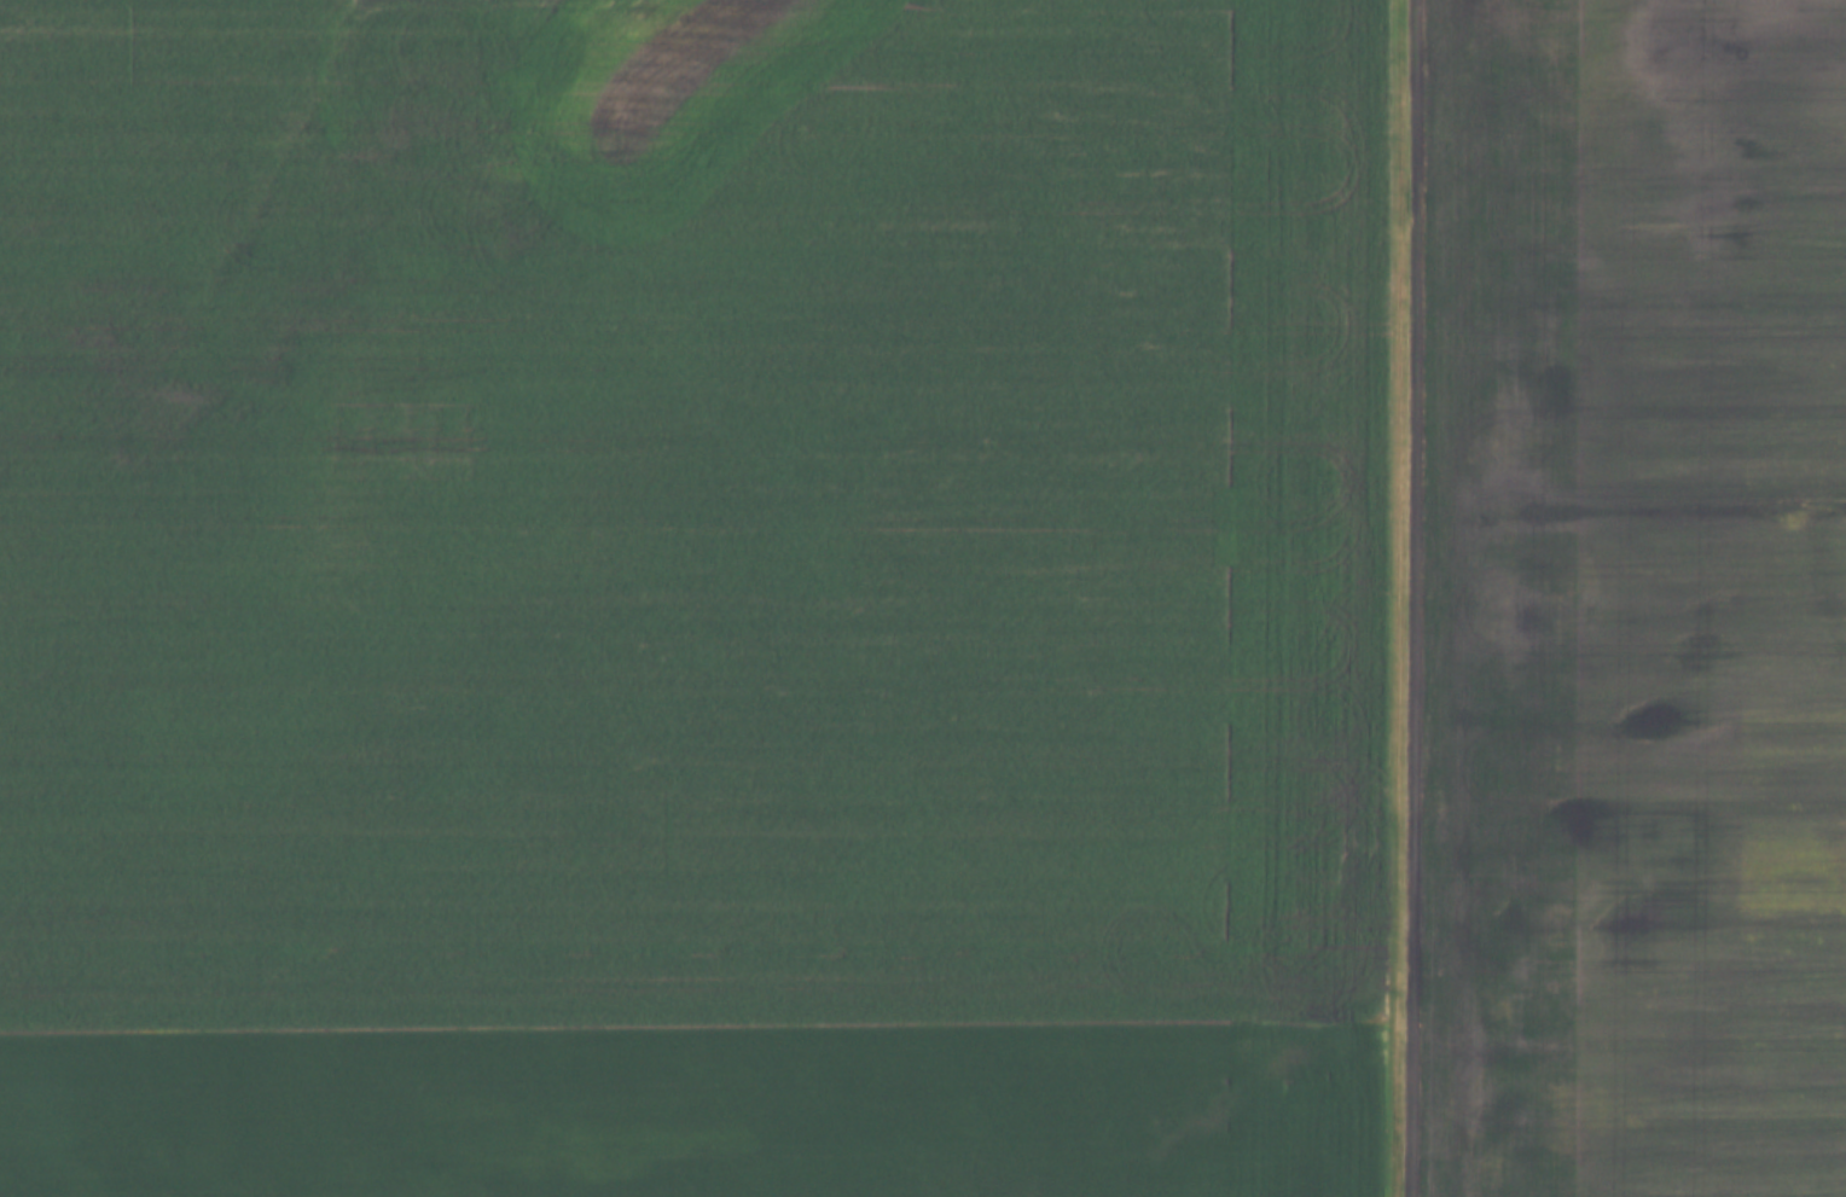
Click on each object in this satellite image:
road: (1405, 598)

